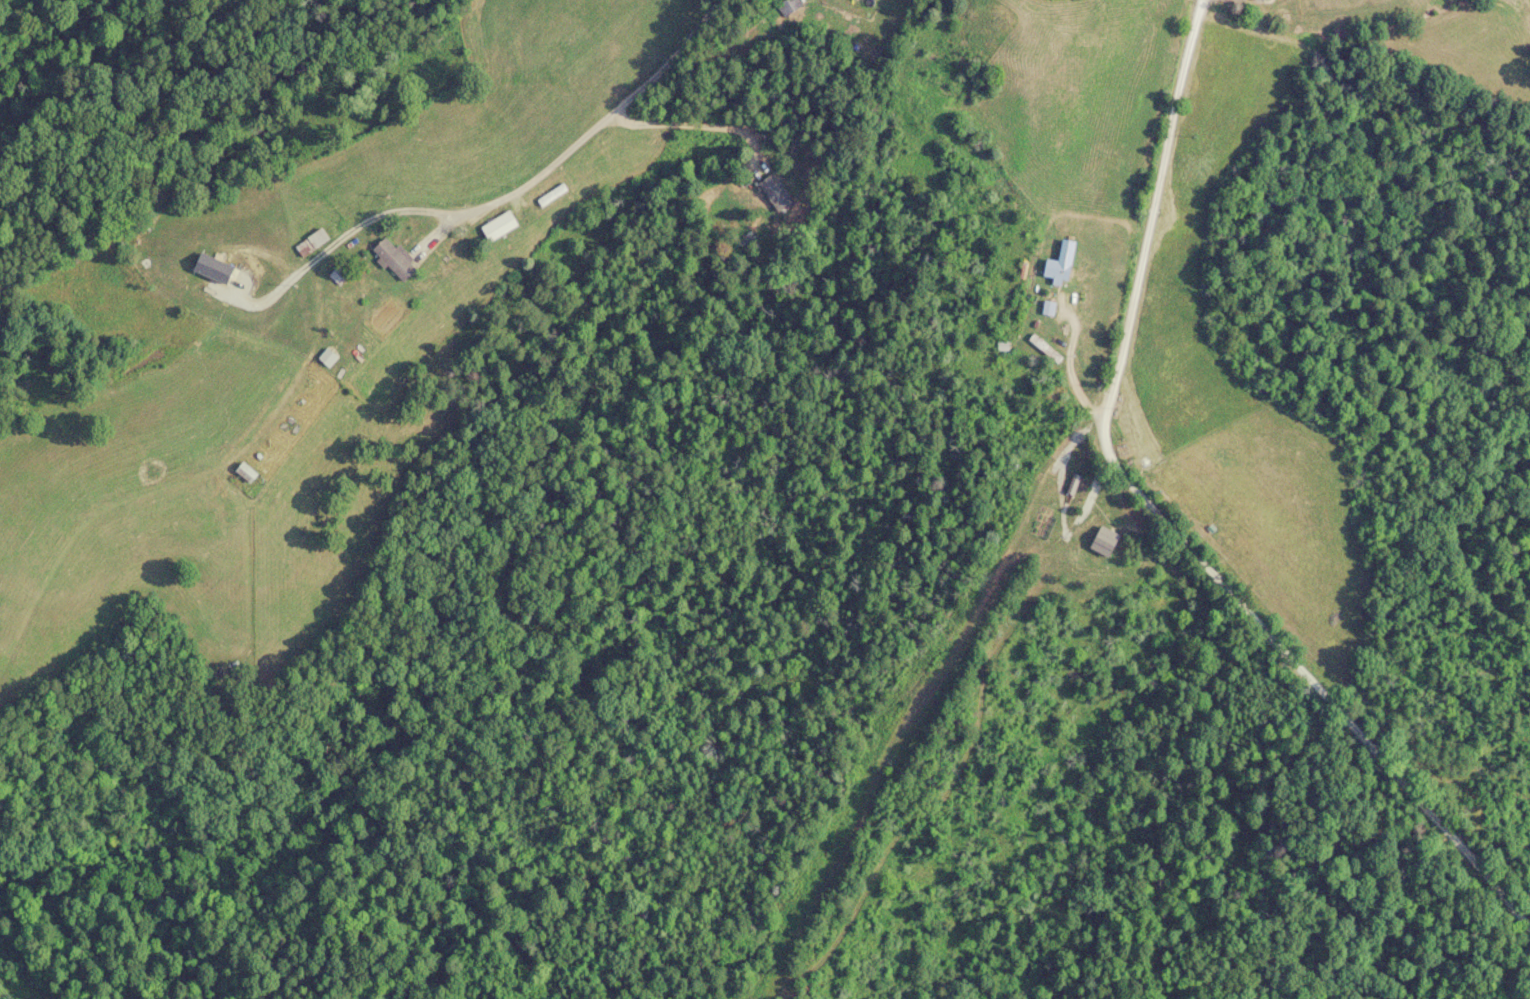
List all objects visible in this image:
building: (790, 7)
road: (1137, 92)
road: (587, 135)
building: (776, 194)
building: (552, 196)
building: (493, 228)
building: (318, 239)
building: (397, 261)
building: (1058, 272)
road: (1097, 337)
building: (247, 472)
road: (1316, 714)

